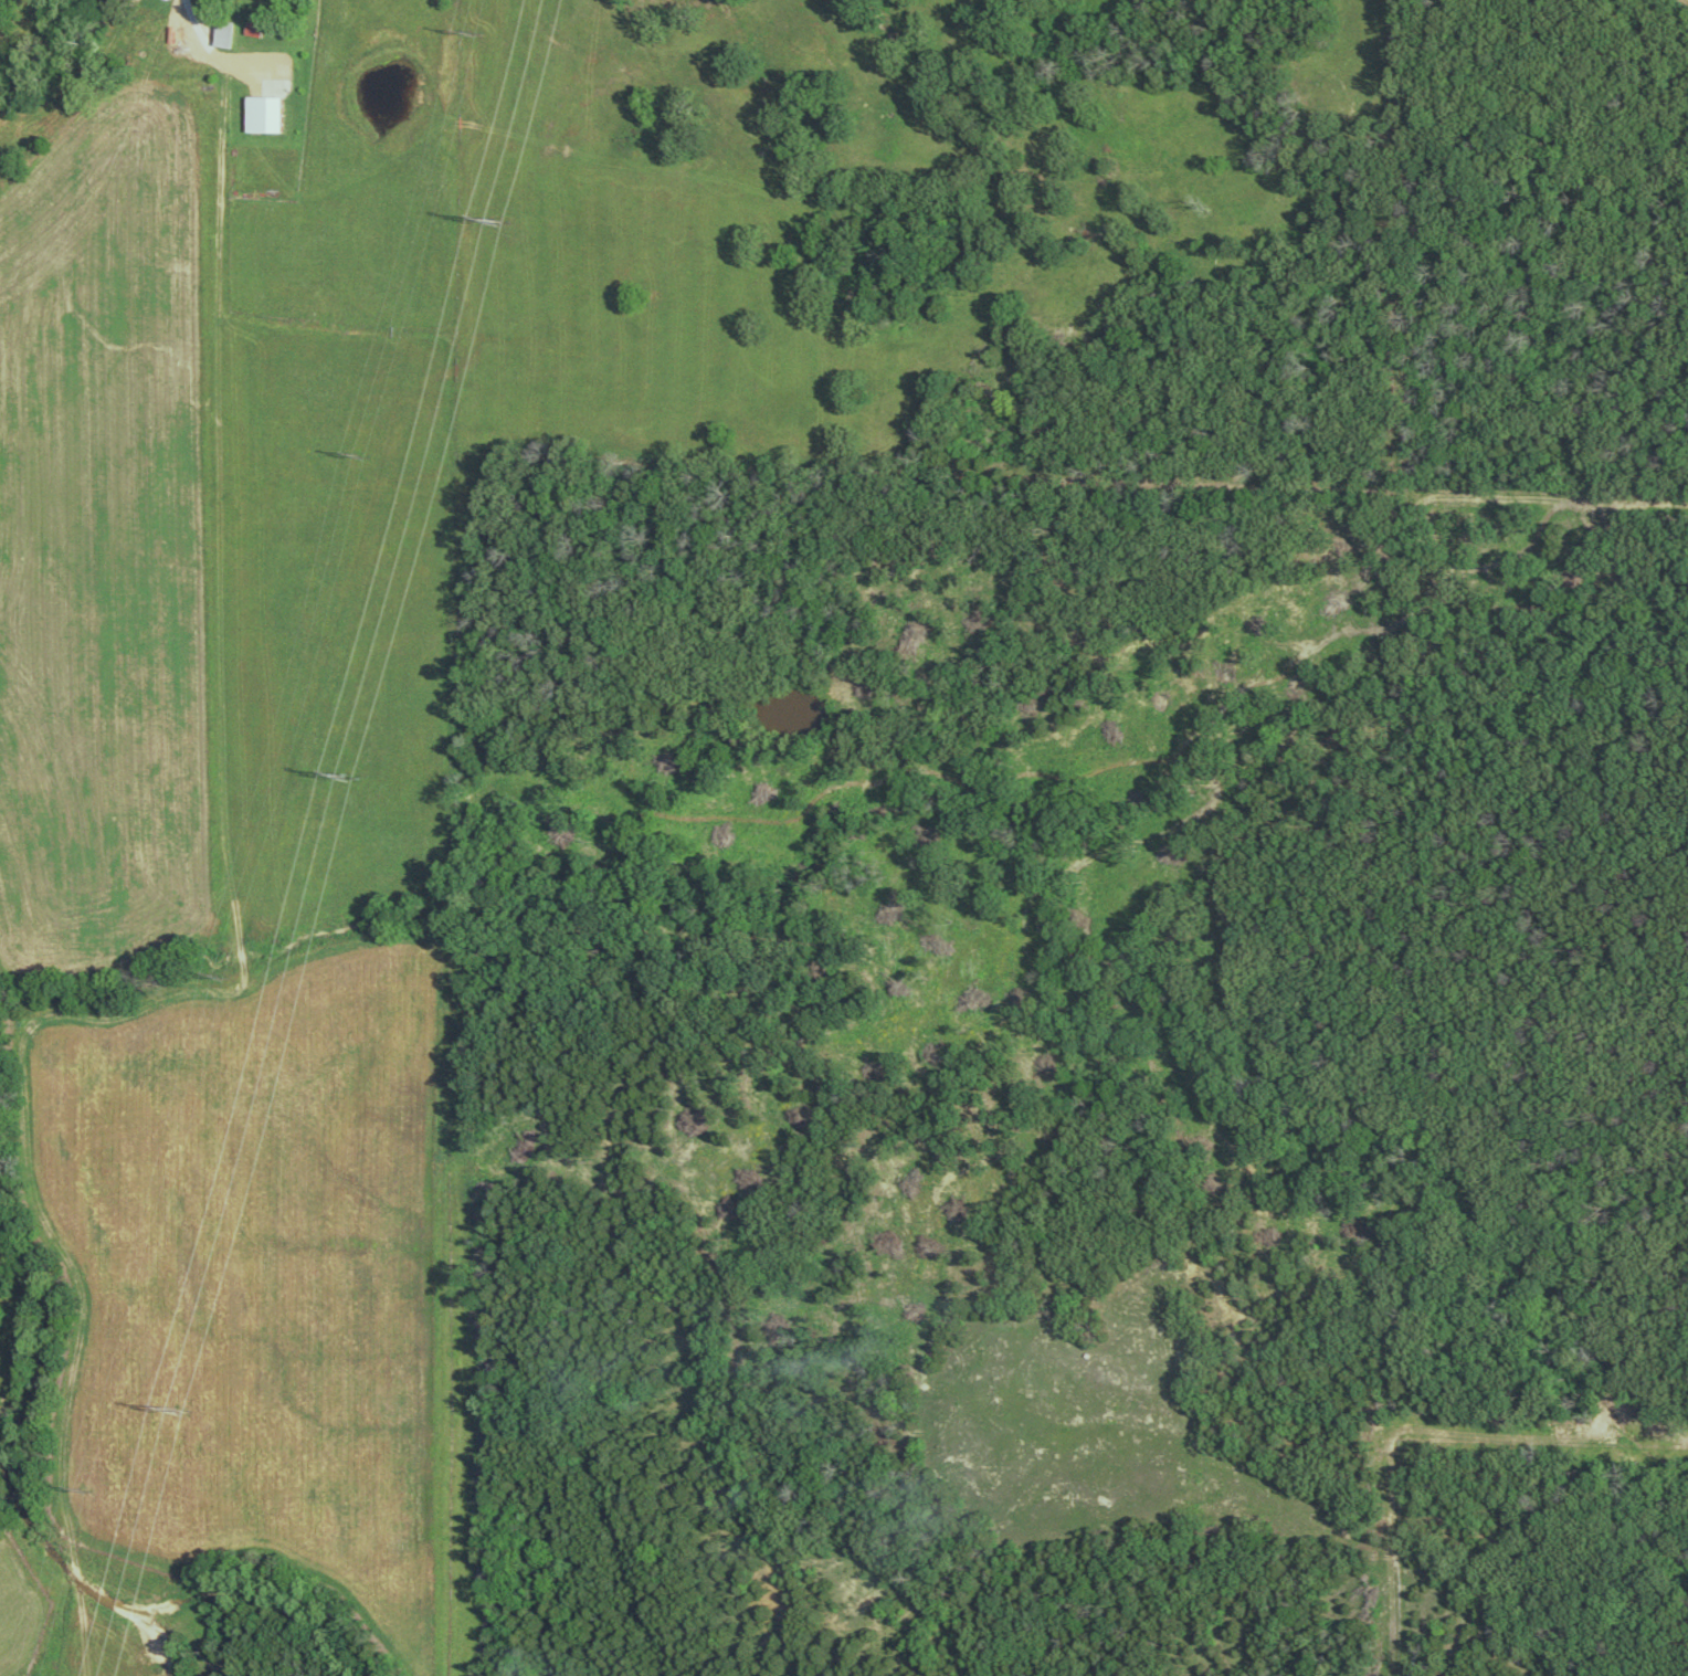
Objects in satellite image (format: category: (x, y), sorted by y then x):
building: (220, 34)
road: (204, 50)
power tower: (497, 223)
power tower: (350, 780)
power tower: (179, 1396)

